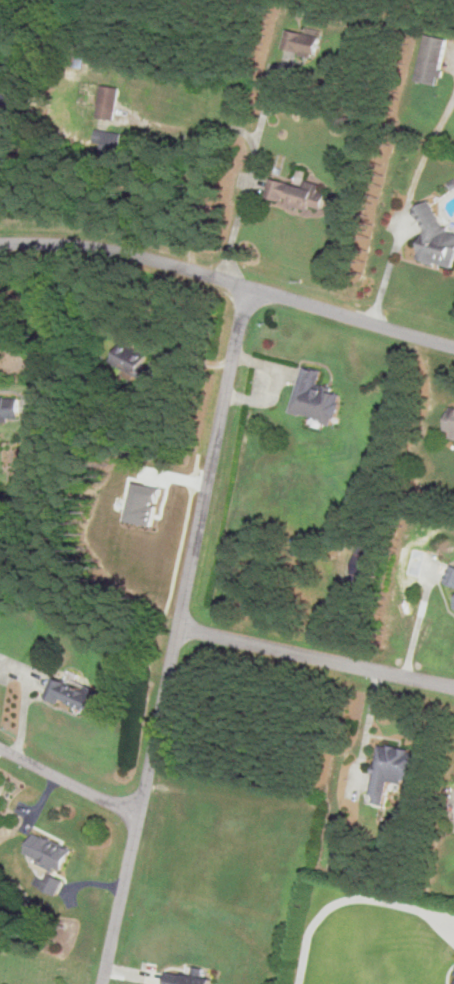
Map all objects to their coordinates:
building: (302, 44)
building: (432, 61)
building: (109, 103)
building: (109, 141)
road: (241, 176)
building: (297, 195)
road: (403, 202)
building: (436, 239)
road: (229, 279)
road: (52, 322)
building: (134, 360)
building: (316, 397)
building: (10, 408)
building: (451, 424)
road: (216, 457)
building: (451, 577)
road: (414, 626)
road: (318, 657)
building: (74, 693)
road: (32, 698)
road: (370, 725)
building: (393, 770)
road: (71, 779)
road: (144, 806)
building: (49, 853)
road: (349, 898)
building: (188, 979)

